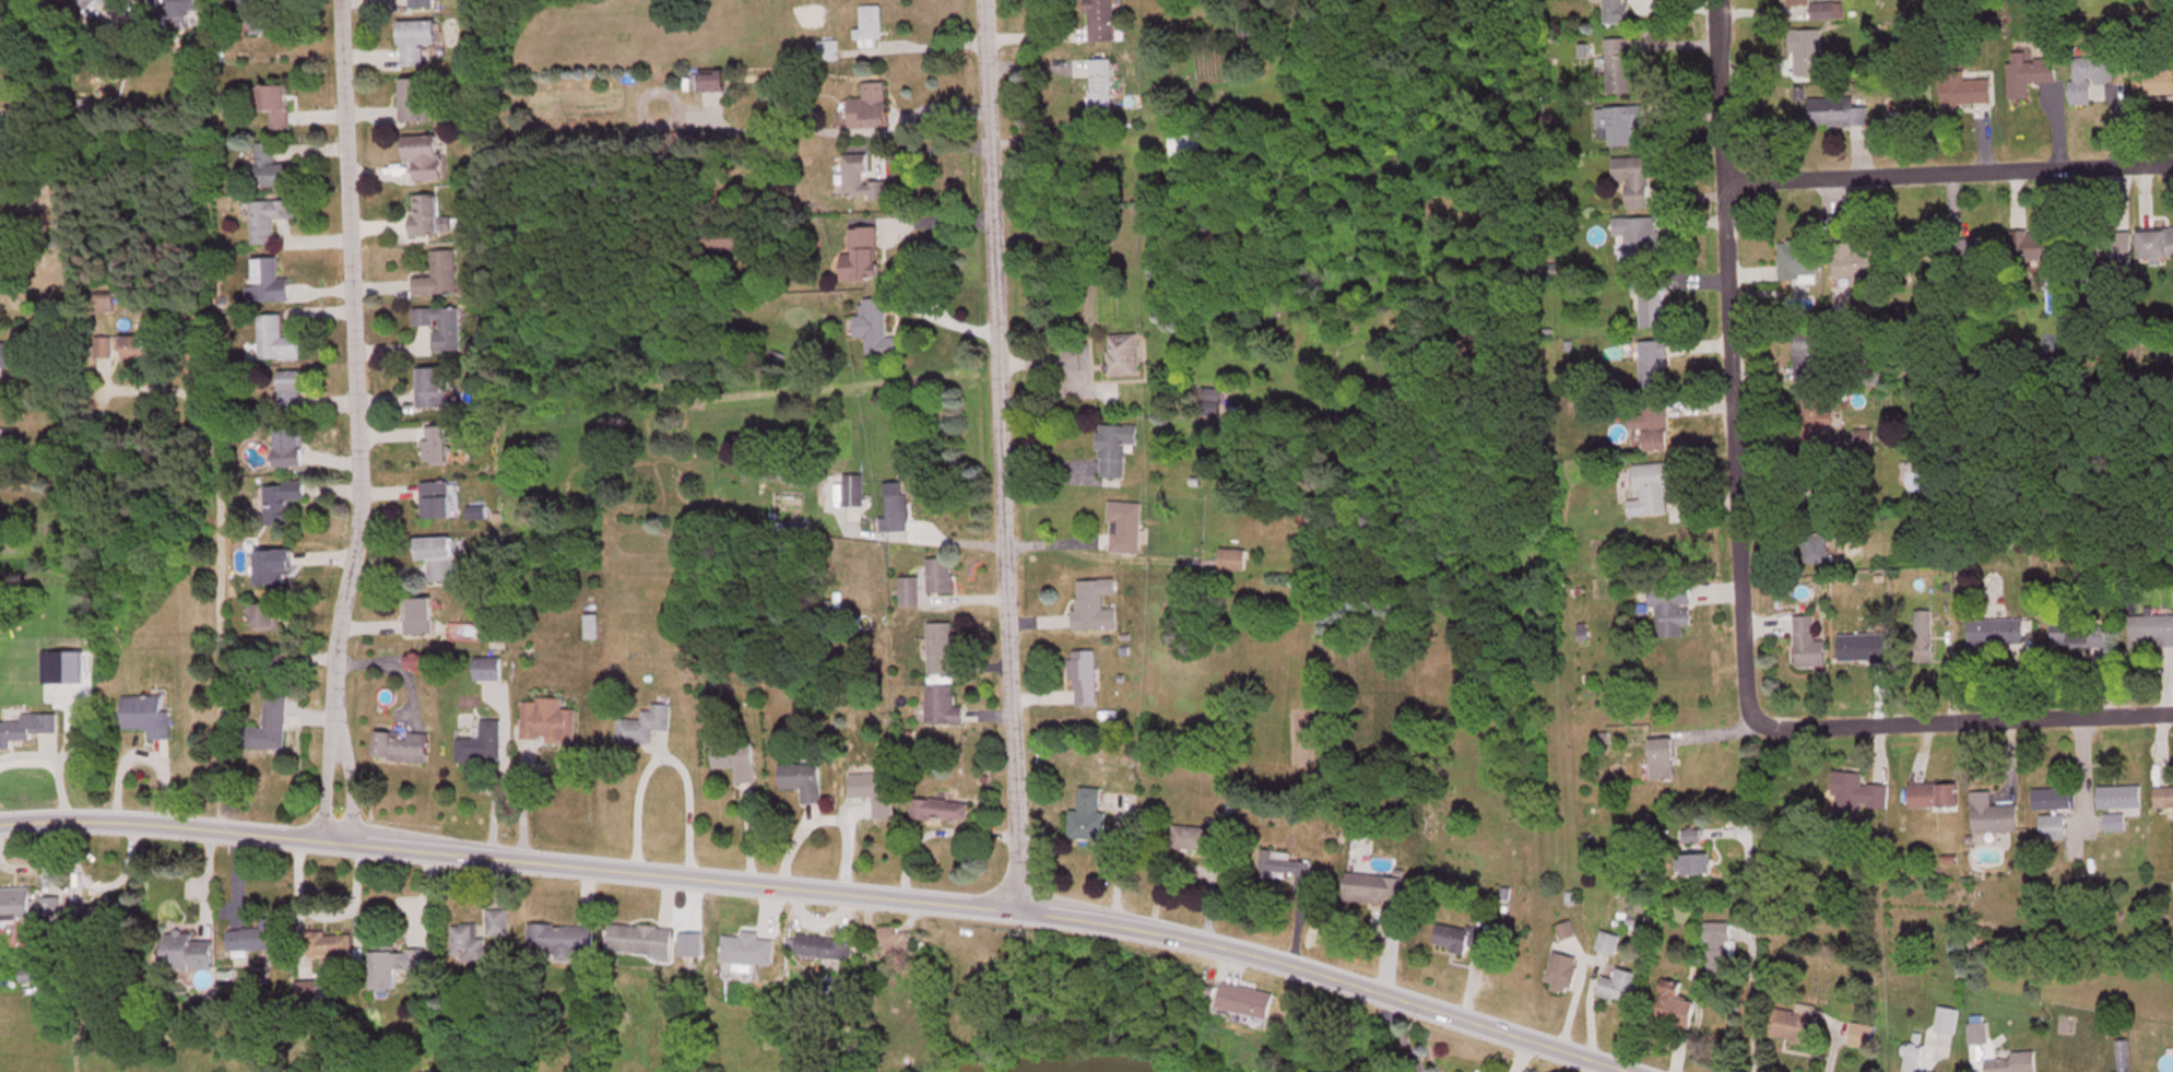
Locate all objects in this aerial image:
building: (1806, 1)
building: (117, 2)
building: (423, 7)
building: (176, 11)
building: (1618, 14)
building: (262, 21)
building: (1102, 22)
building: (872, 30)
building: (418, 45)
building: (1809, 56)
road: (1725, 58)
building: (1620, 70)
building: (2101, 75)
building: (2031, 79)
building: (2165, 83)
building: (716, 85)
building: (1102, 91)
building: (1969, 93)
building: (1799, 99)
building: (416, 104)
building: (277, 108)
building: (873, 111)
building: (1839, 116)
building: (1626, 128)
building: (1189, 146)
building: (427, 160)
building: (272, 172)
road: (1946, 174)
building: (865, 185)
building: (1639, 186)
building: (429, 219)
building: (270, 222)
building: (1641, 244)
building: (733, 245)
building: (2158, 247)
building: (2048, 250)
building: (1977, 254)
building: (2122, 255)
building: (865, 259)
building: (1799, 264)
building: (1862, 264)
building: (441, 279)
building: (272, 285)
building: (2055, 299)
building: (1653, 307)
building: (445, 330)
building: (878, 332)
building: (276, 341)
building: (120, 351)
building: (1124, 358)
road: (1728, 358)
building: (1811, 360)
building: (1655, 368)
building: (433, 390)
building: (291, 398)
road: (351, 423)
building: (1653, 427)
building: (1856, 446)
building: (438, 448)
building: (7, 449)
building: (292, 451)
building: (1115, 452)
road: (995, 456)
building: (1654, 492)
building: (854, 493)
building: (438, 504)
building: (284, 505)
building: (897, 518)
building: (1126, 531)
building: (1819, 553)
building: (439, 561)
building: (1235, 563)
building: (276, 572)
building: (942, 579)
road: (202, 590)
building: (911, 594)
building: (1096, 609)
building: (1674, 611)
building: (421, 620)
building: (270, 621)
building: (593, 629)
building: (2151, 634)
building: (1998, 636)
building: (2082, 637)
building: (1810, 646)
building: (1865, 650)
building: (943, 651)
building: (1924, 653)
building: (418, 664)
building: (274, 668)
building: (489, 671)
building: (1086, 681)
building: (944, 709)
building: (150, 718)
road: (1961, 720)
building: (548, 723)
building: (275, 725)
building: (645, 728)
building: (29, 729)
building: (483, 746)
building: (403, 749)
building: (737, 762)
building: (1664, 762)
building: (804, 782)
building: (876, 794)
building: (1859, 797)
building: (1936, 798)
road: (1390, 800)
building: (2165, 800)
building: (2122, 801)
building: (2056, 802)
building: (942, 812)
building: (1089, 818)
building: (1997, 821)
building: (2055, 830)
building: (1693, 839)
building: (1202, 840)
building: (1696, 868)
building: (1288, 871)
building: (1377, 892)
road: (819, 893)
road: (1731, 893)
building: (20, 906)
building: (54, 914)
building: (93, 919)
building: (499, 926)
building: (267, 939)
building: (1462, 941)
building: (643, 943)
building: (562, 944)
building: (895, 944)
building: (470, 946)
building: (1609, 946)
building: (331, 947)
building: (830, 951)
building: (749, 952)
building: (1722, 952)
building: (191, 955)
building: (397, 969)
building: (1564, 976)
building: (1621, 988)
building: (1245, 1008)
building: (1678, 1009)
building: (1948, 1023)
building: (1797, 1027)
building: (1979, 1037)
building: (1856, 1038)
building: (2123, 1057)
building: (1913, 1060)
building: (2015, 1064)

